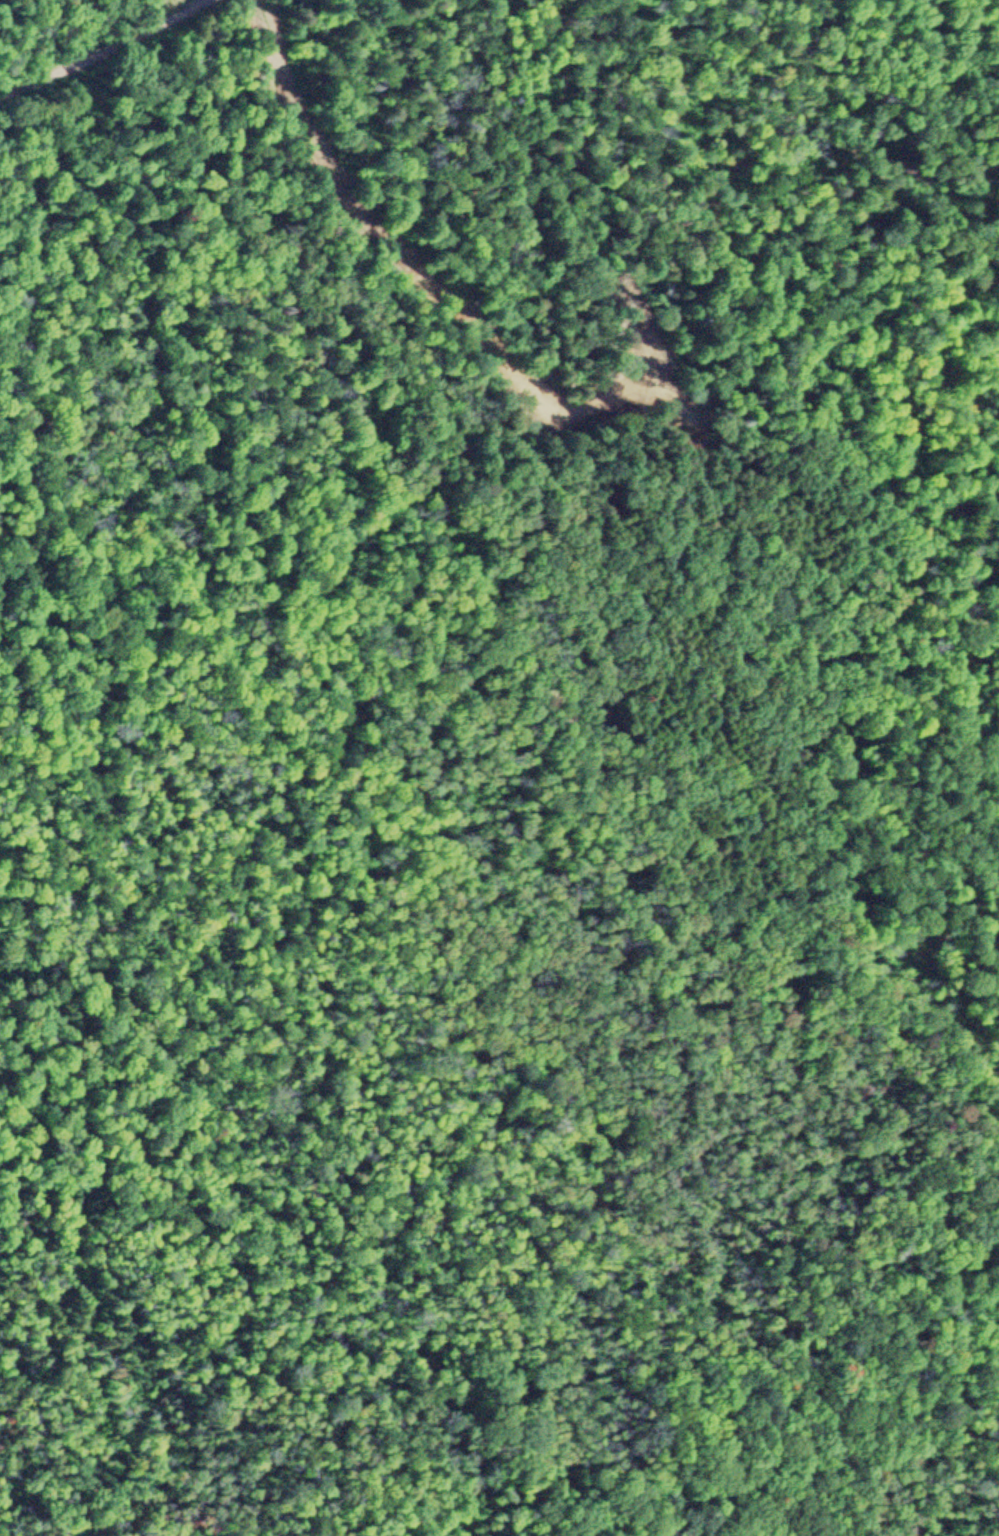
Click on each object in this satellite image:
road: (112, 48)

